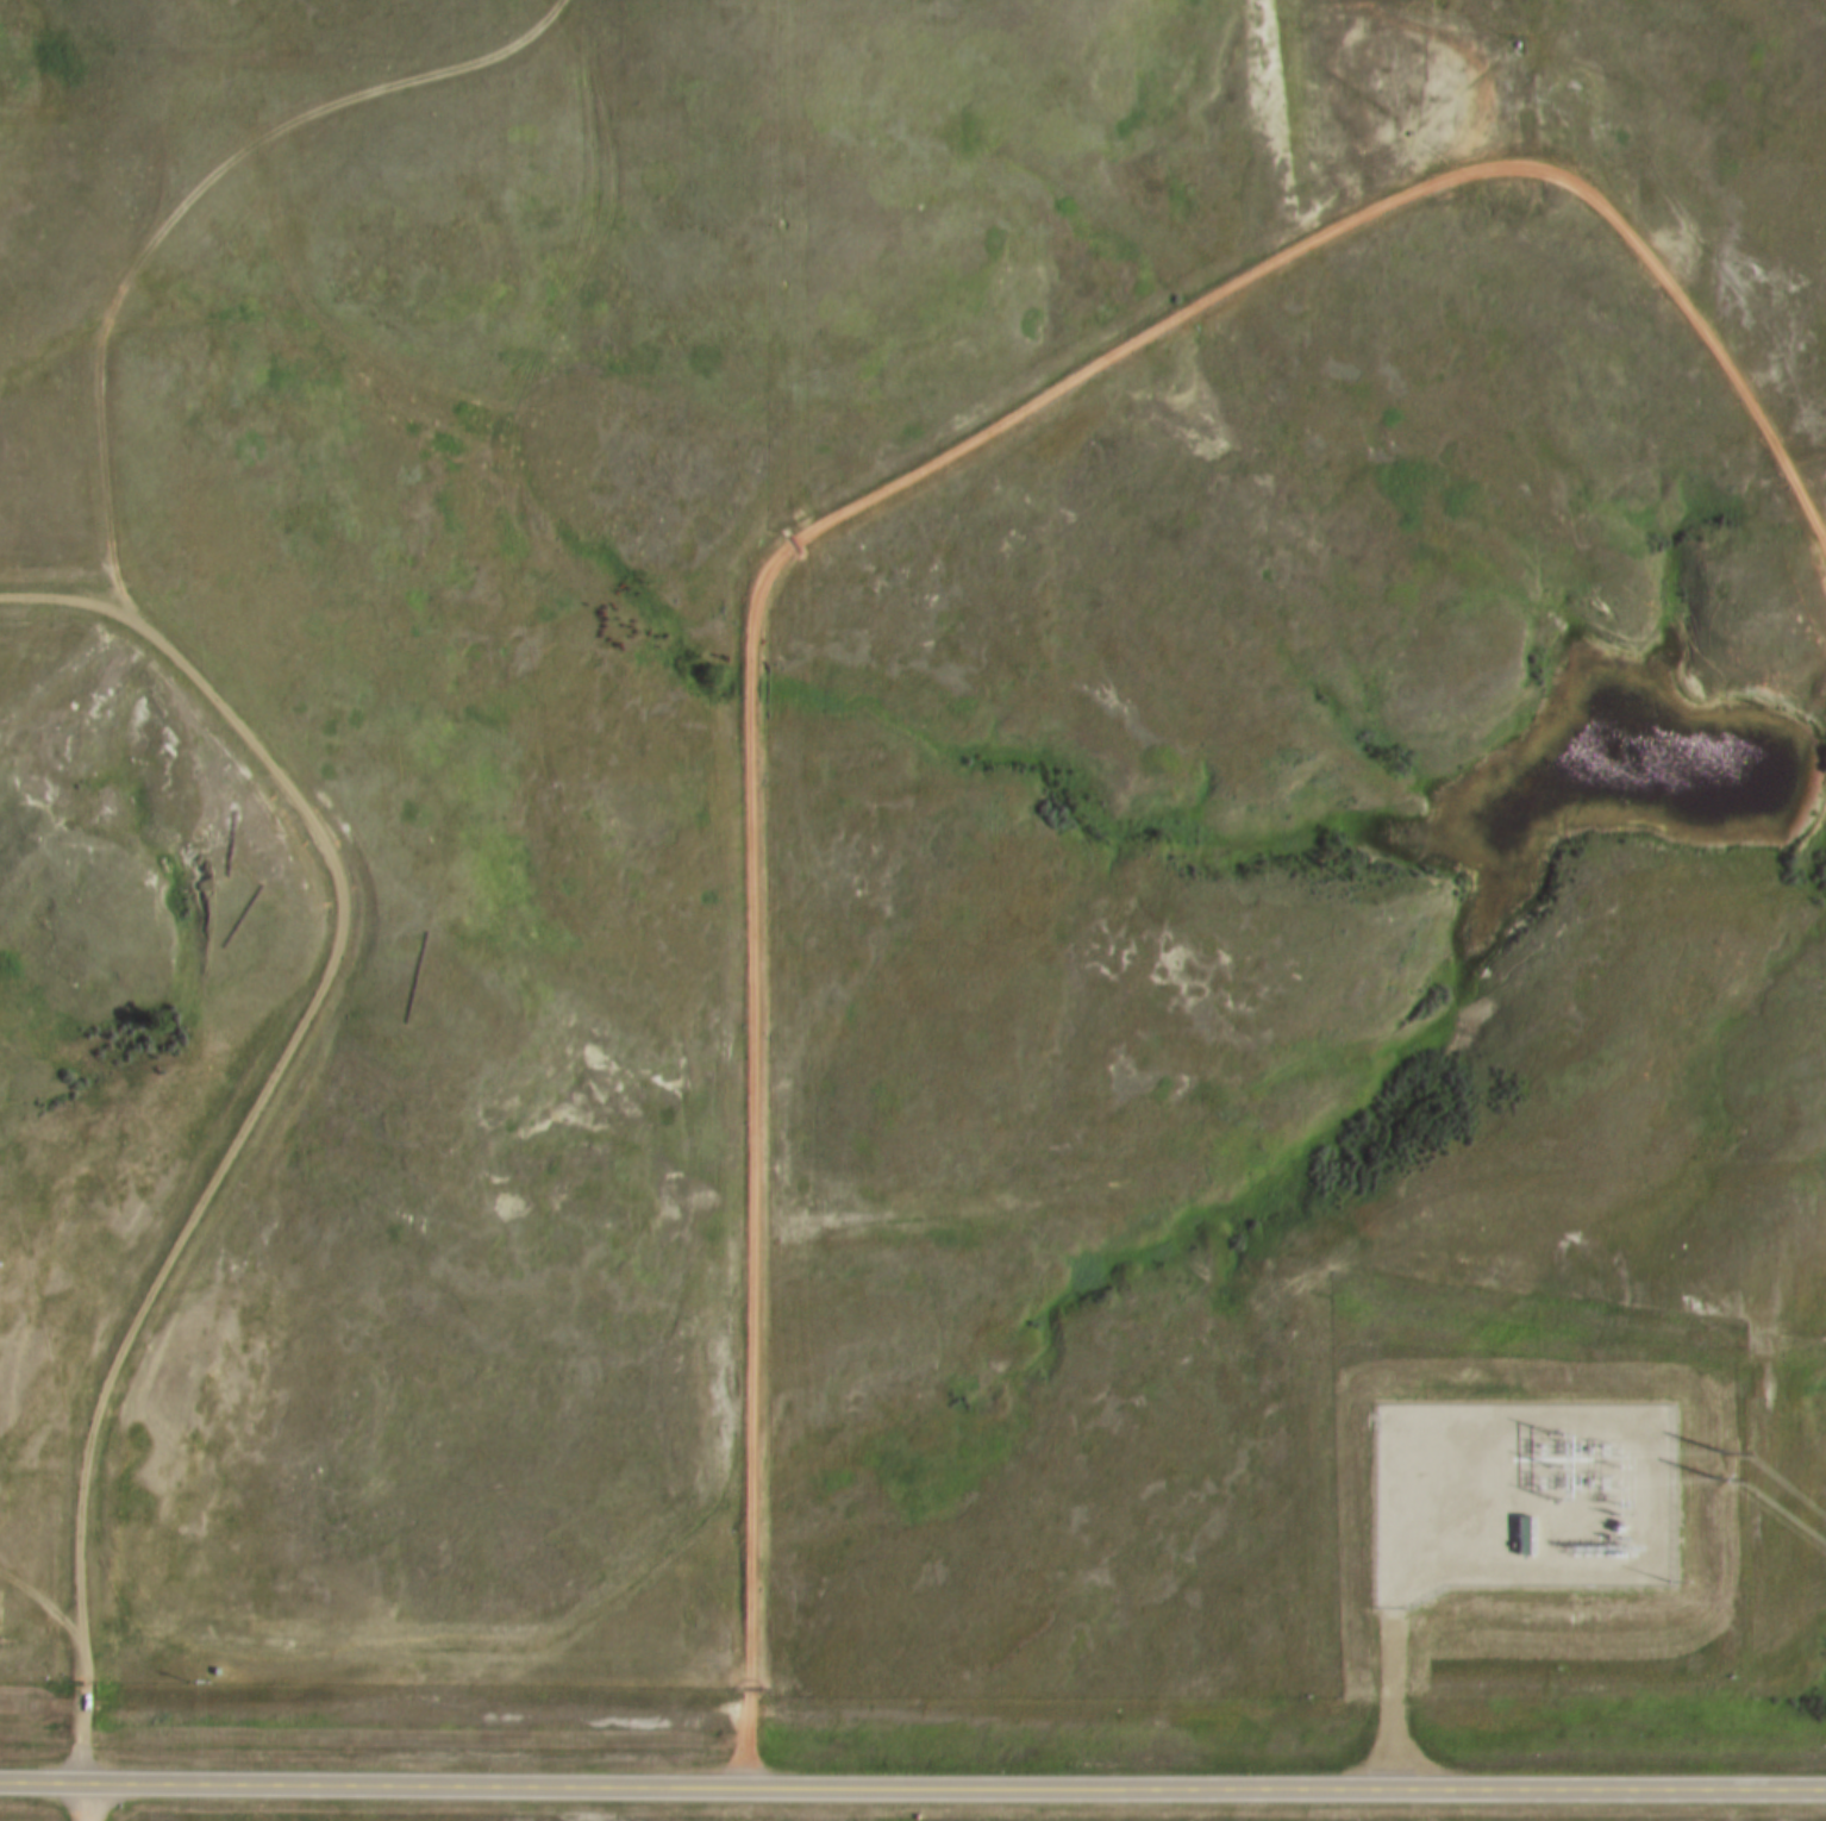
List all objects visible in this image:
road: (175, 211)
road: (790, 271)
road: (834, 525)
road: (258, 1105)
power substation: (1519, 1494)
road: (39, 1600)
road: (912, 1785)
road: (81, 1803)

